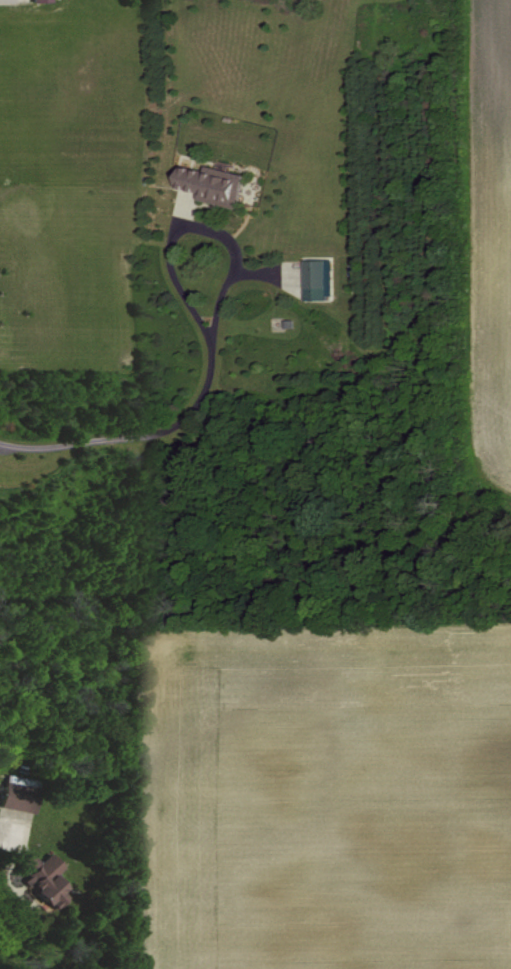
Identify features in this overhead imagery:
building: (43, 1)
building: (218, 184)
road: (194, 228)
building: (322, 278)
road: (138, 439)
building: (23, 793)
road: (9, 836)
building: (47, 878)

